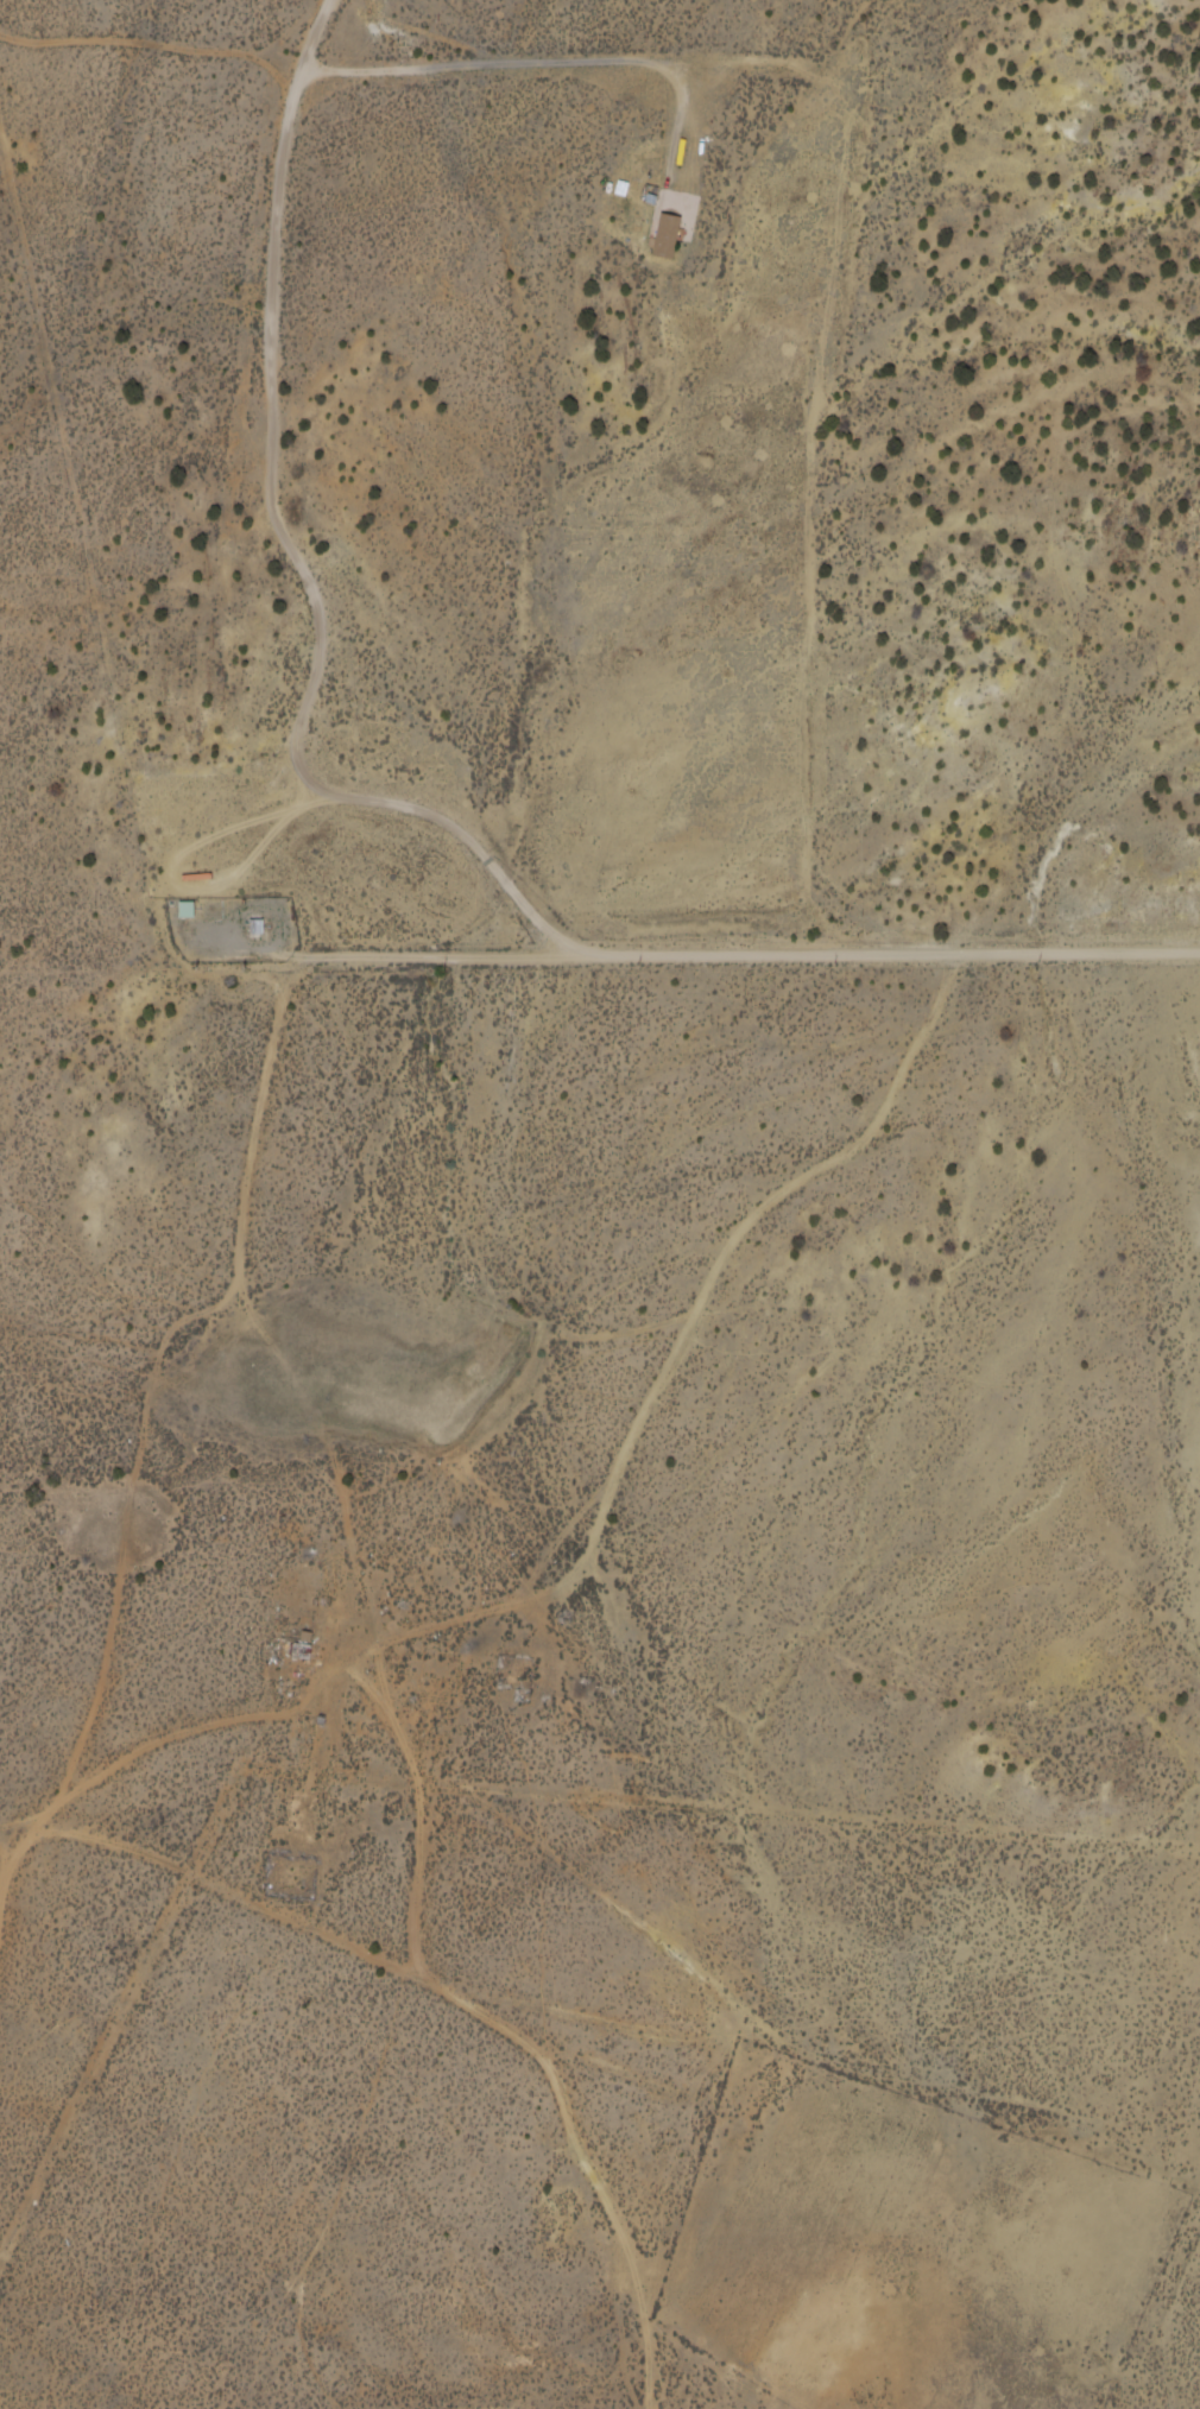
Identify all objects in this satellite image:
building: (657, 236)
building: (185, 911)
road: (705, 957)
building: (302, 1648)
road: (413, 1758)
road: (586, 2062)
road: (608, 2233)

